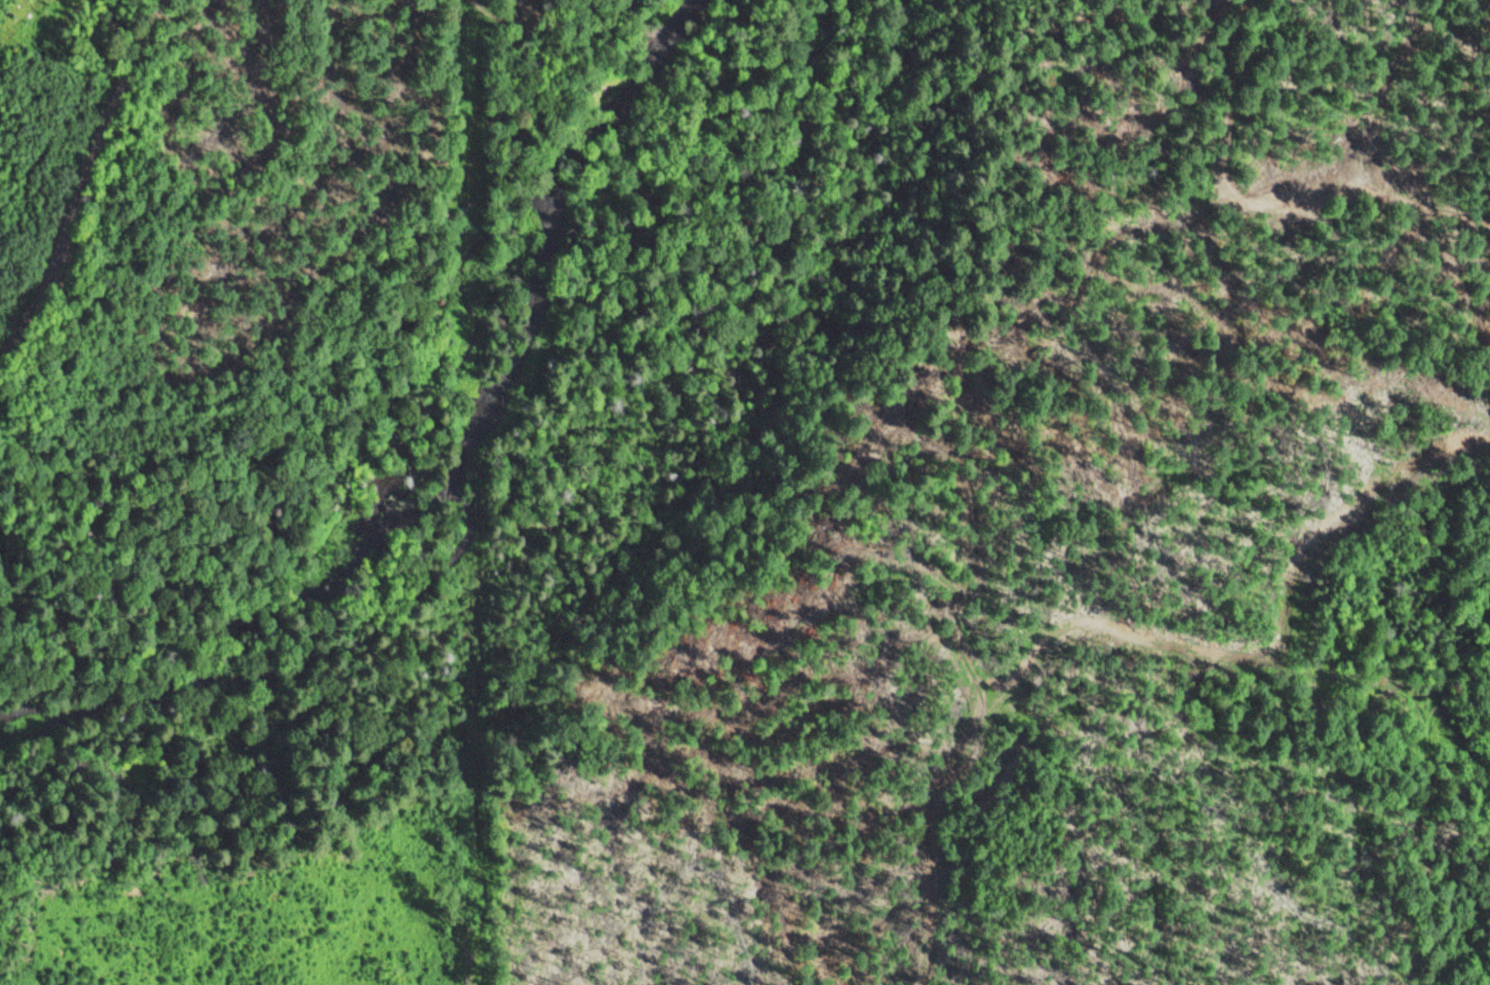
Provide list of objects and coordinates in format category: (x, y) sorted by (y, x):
road: (82, 176)
river: (526, 394)
road: (409, 440)

